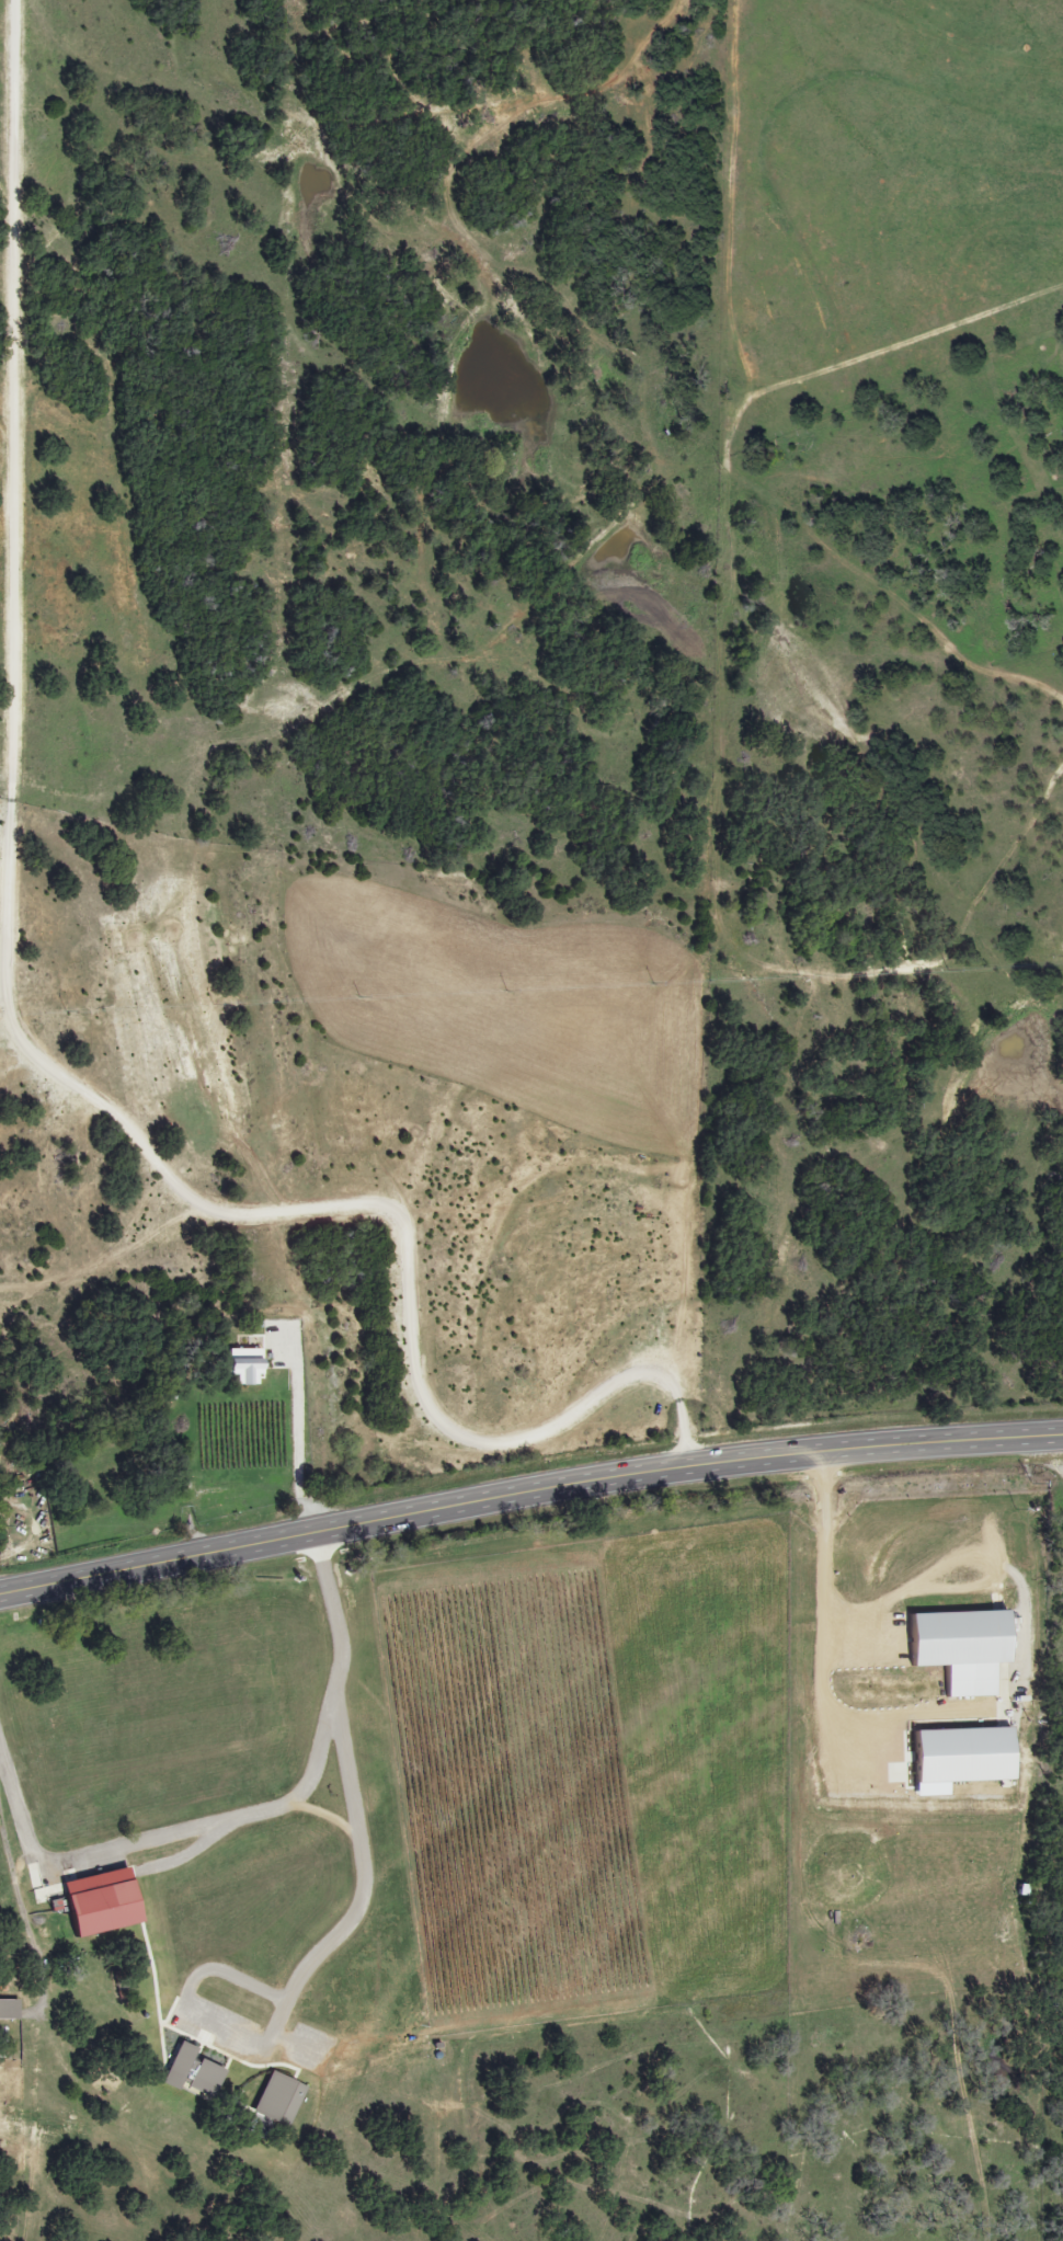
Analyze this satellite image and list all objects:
road: (285, 1440)
road: (527, 1490)
building: (227, 1497)
building: (0, 1544)
road: (811, 1620)
road: (248, 1813)
road: (354, 1884)

